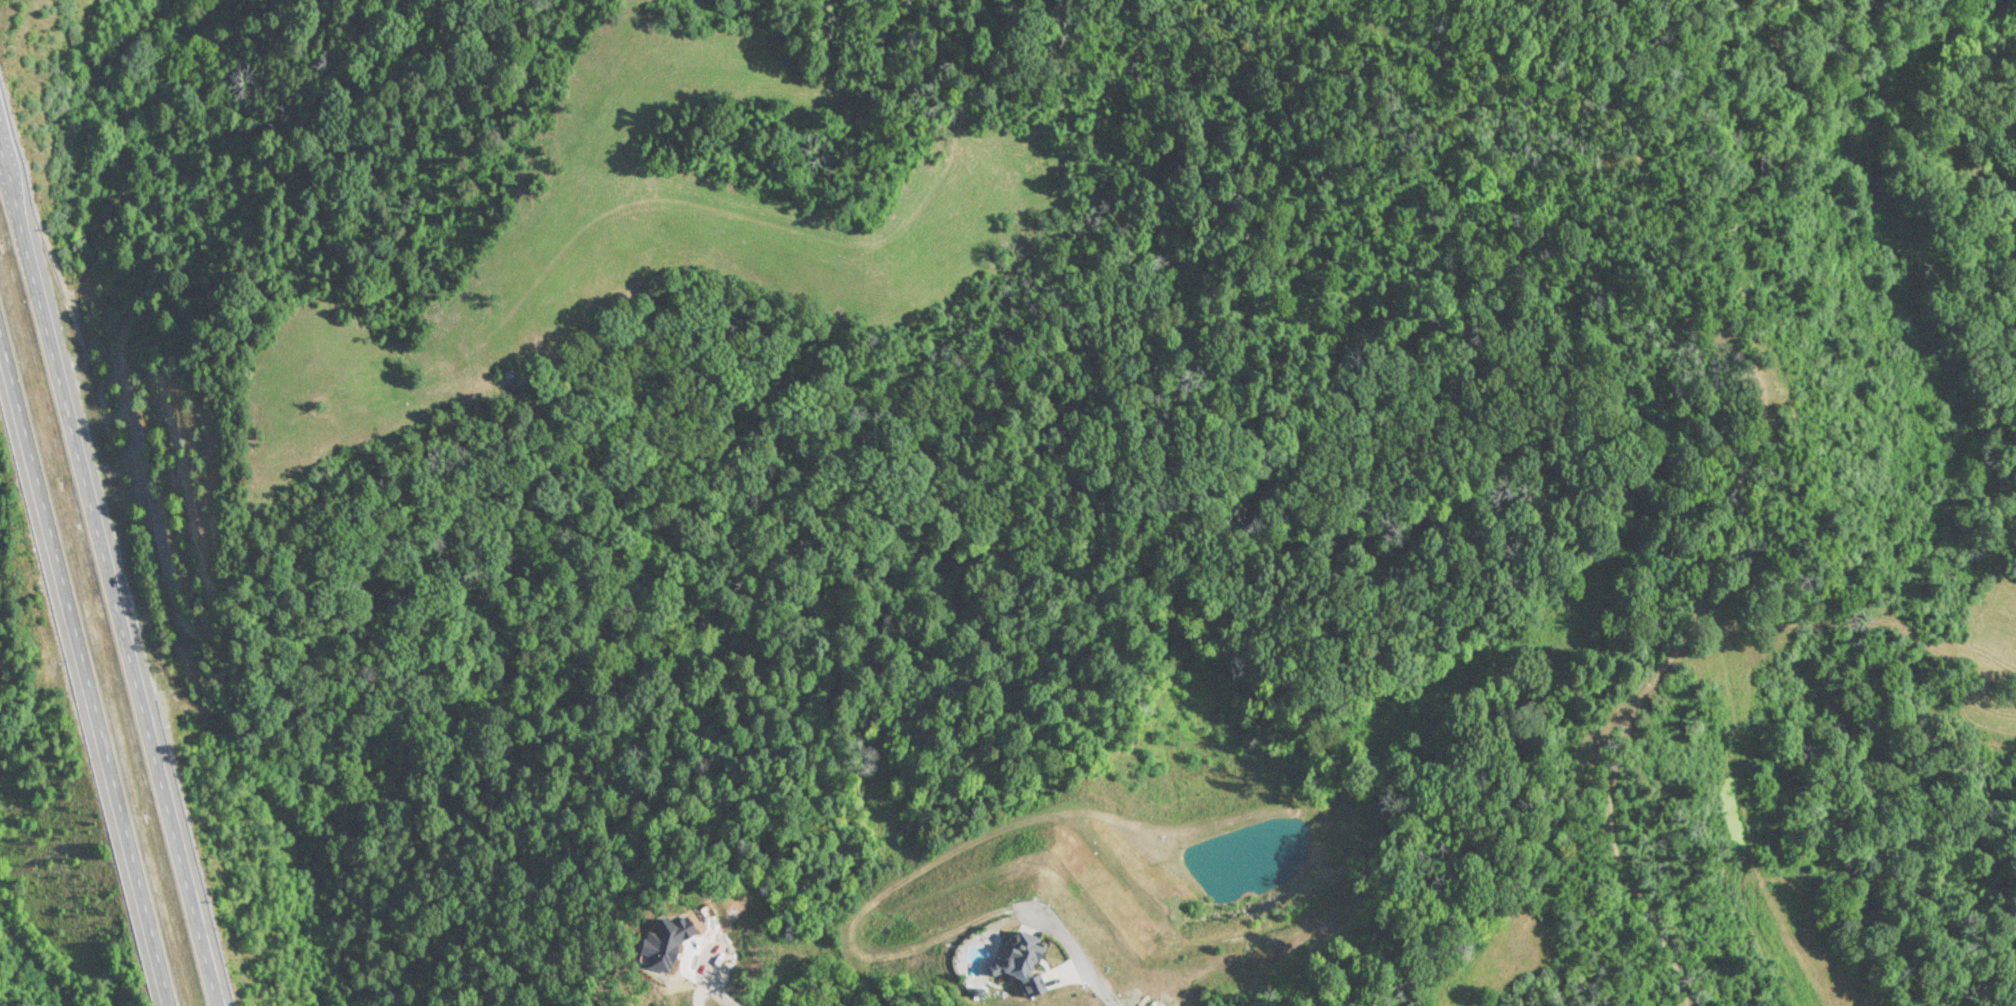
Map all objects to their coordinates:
road: (8, 178)
road: (126, 606)
road: (86, 671)

